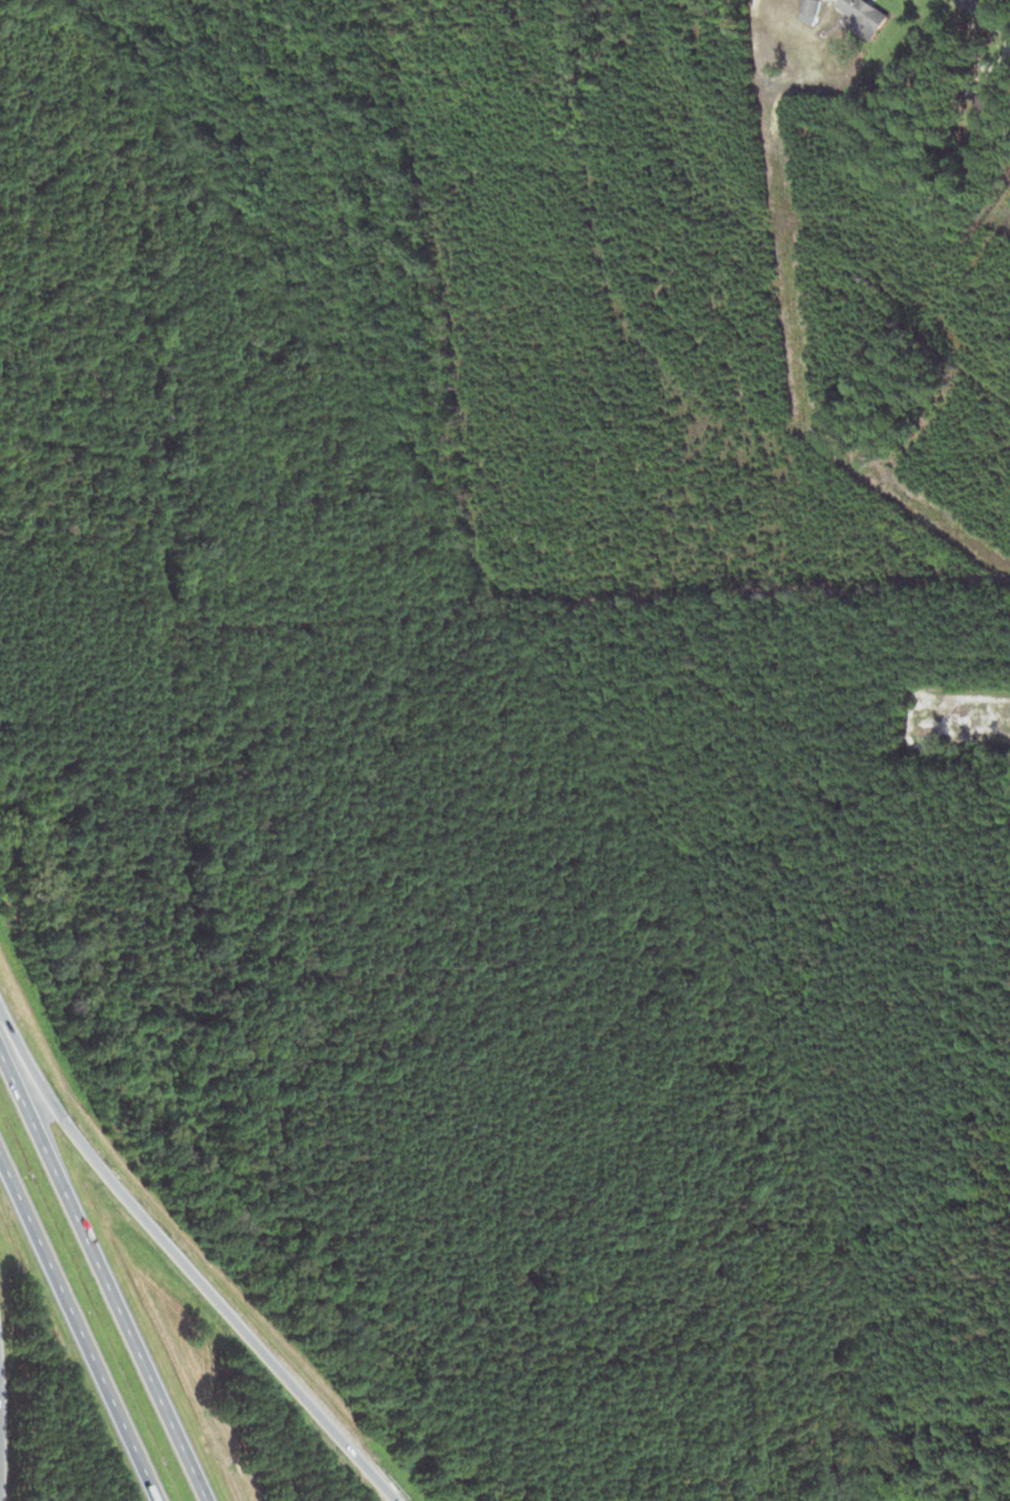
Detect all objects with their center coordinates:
building: (810, 8)
road: (987, 16)
building: (866, 17)
building: (801, 55)
road: (812, 358)
road: (185, 1264)
road: (102, 1276)
road: (79, 1327)

